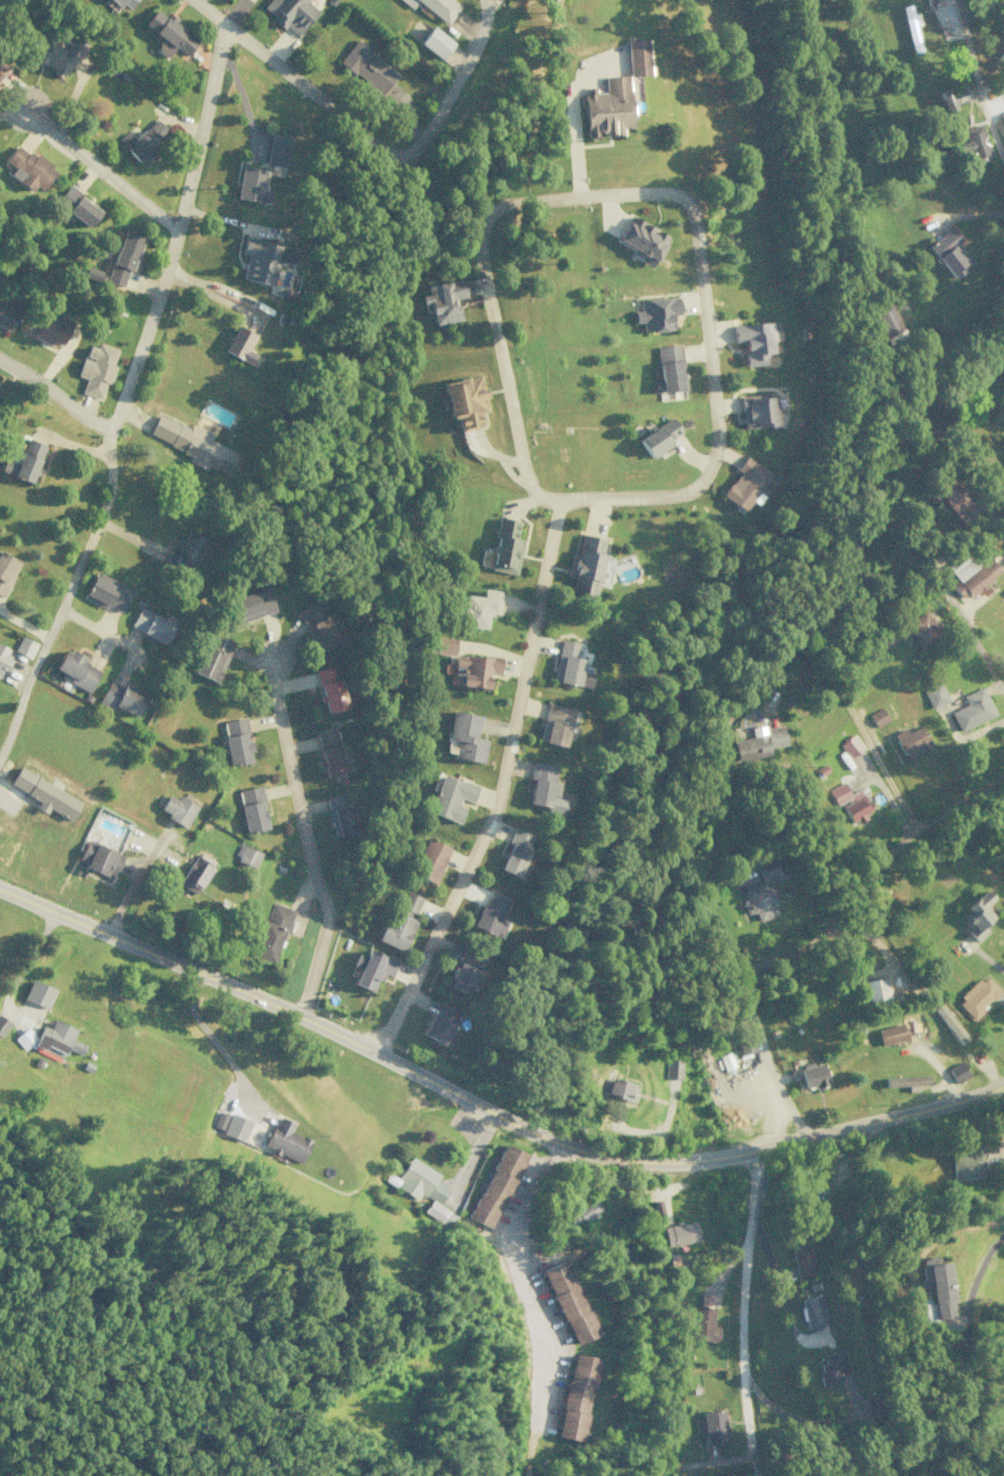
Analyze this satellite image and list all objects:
building: (124, 3)
building: (437, 7)
building: (290, 12)
building: (911, 27)
building: (169, 34)
building: (435, 42)
building: (60, 55)
building: (637, 57)
building: (1, 67)
building: (367, 67)
road: (976, 83)
building: (952, 96)
building: (607, 108)
road: (180, 117)
road: (367, 138)
building: (143, 140)
building: (975, 141)
building: (277, 149)
road: (97, 167)
building: (28, 168)
building: (251, 184)
road: (664, 193)
building: (77, 206)
building: (641, 239)
building: (949, 253)
building: (123, 258)
building: (259, 260)
building: (442, 300)
building: (656, 313)
building: (6, 316)
building: (888, 323)
building: (48, 327)
building: (751, 341)
building: (239, 344)
building: (1002, 367)
building: (96, 369)
building: (667, 369)
road: (123, 393)
road: (55, 395)
building: (464, 401)
building: (756, 411)
building: (658, 437)
building: (193, 444)
building: (24, 461)
building: (746, 484)
building: (955, 500)
building: (505, 546)
building: (184, 551)
building: (584, 565)
building: (6, 570)
building: (970, 574)
building: (107, 592)
building: (248, 605)
building: (479, 608)
building: (319, 624)
building: (150, 625)
building: (921, 629)
road: (95, 630)
road: (968, 632)
building: (24, 646)
building: (443, 646)
building: (212, 656)
building: (3, 657)
building: (566, 663)
building: (474, 669)
building: (76, 670)
building: (329, 690)
building: (935, 695)
building: (121, 698)
building: (972, 709)
building: (878, 717)
building: (554, 724)
building: (466, 736)
building: (235, 740)
building: (911, 741)
building: (756, 742)
building: (850, 746)
building: (329, 753)
road: (500, 786)
building: (544, 788)
building: (450, 797)
building: (849, 802)
building: (251, 808)
building: (177, 809)
building: (340, 815)
building: (6, 825)
road: (303, 835)
building: (515, 851)
building: (245, 855)
building: (100, 858)
building: (429, 860)
road: (707, 863)
building: (194, 874)
building: (760, 888)
building: (491, 915)
building: (976, 916)
building: (400, 921)
road: (833, 925)
building: (272, 931)
road: (29, 953)
building: (371, 968)
building: (465, 972)
building: (875, 990)
building: (38, 993)
building: (977, 998)
building: (3, 1025)
building: (439, 1025)
building: (895, 1031)
building: (57, 1039)
building: (742, 1045)
building: (672, 1068)
building: (958, 1072)
building: (813, 1075)
building: (905, 1080)
building: (617, 1089)
road: (488, 1107)
road: (793, 1115)
building: (228, 1123)
building: (286, 1140)
building: (967, 1163)
road: (609, 1175)
building: (418, 1181)
building: (495, 1185)
building: (813, 1189)
building: (583, 1212)
building: (437, 1213)
building: (680, 1233)
building: (801, 1257)
road: (524, 1279)
building: (937, 1285)
building: (567, 1302)
road: (739, 1311)
building: (812, 1311)
building: (929, 1311)
building: (704, 1320)
building: (831, 1368)
building: (575, 1397)
building: (714, 1426)

